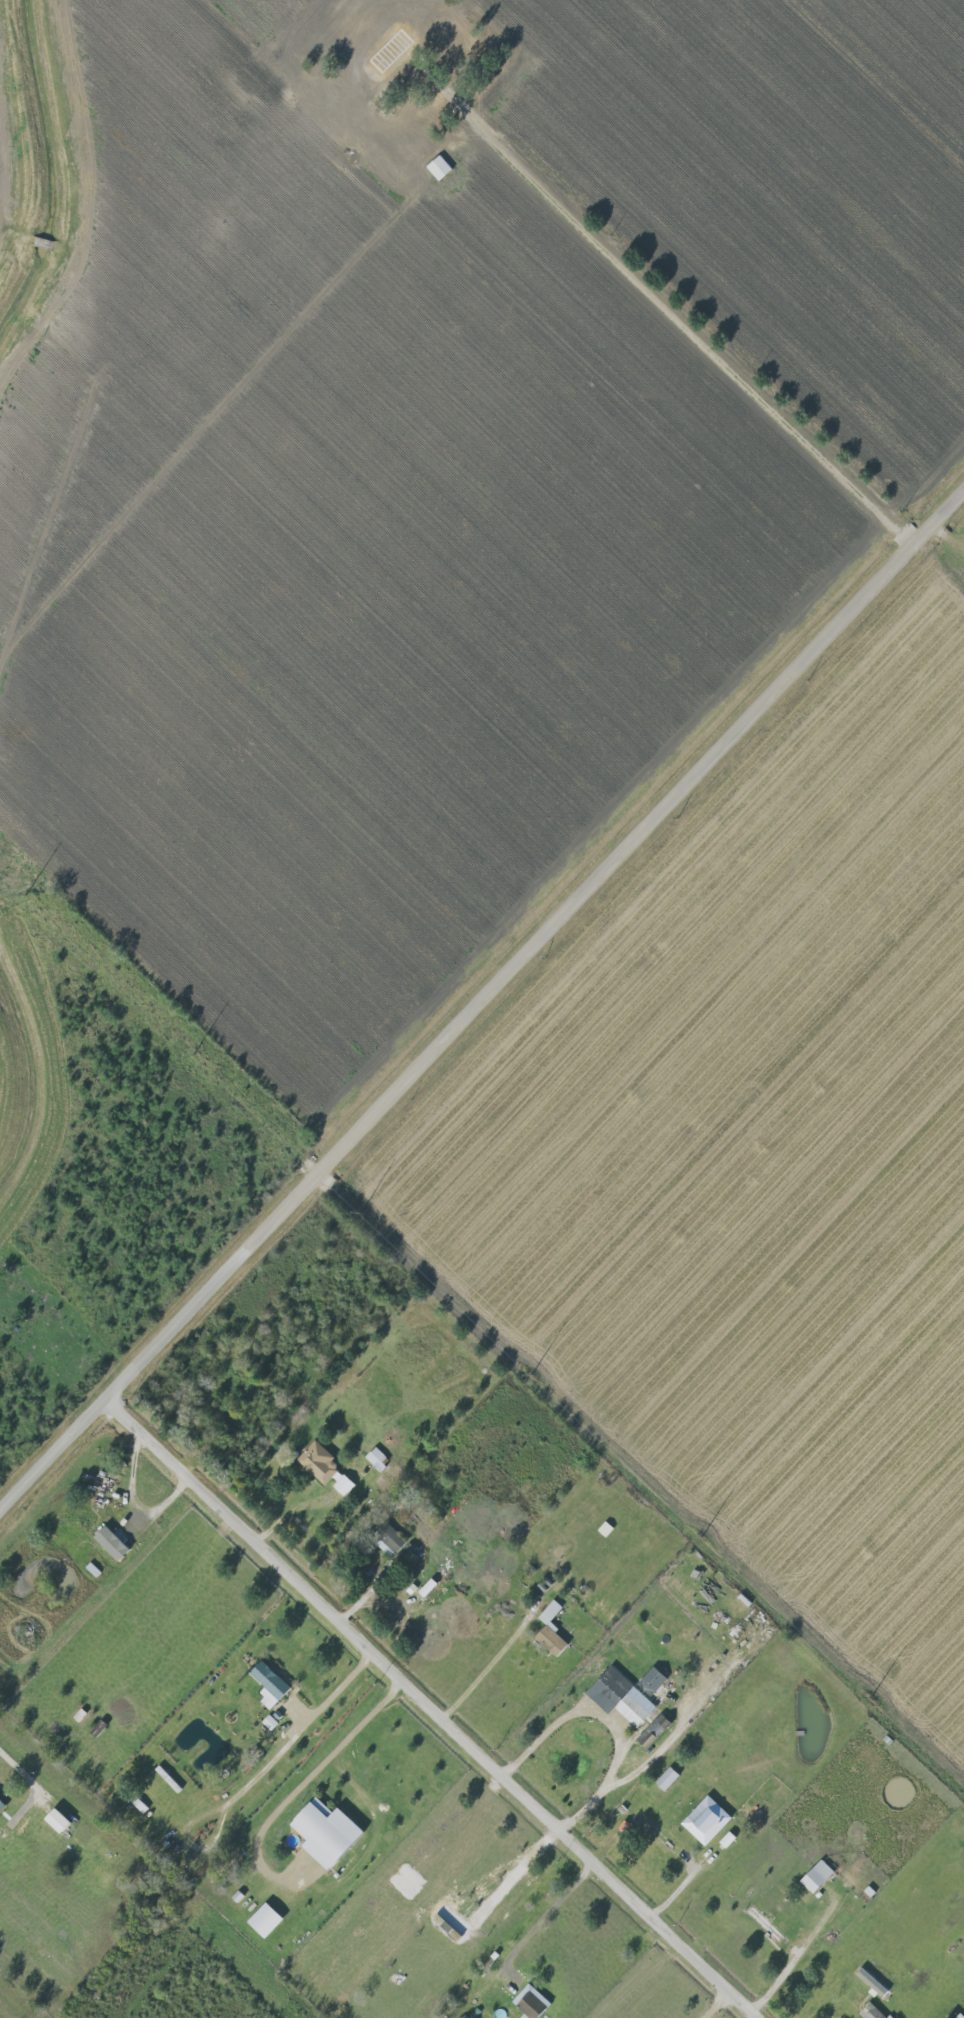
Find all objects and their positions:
building: (463, 51)
road: (486, 127)
building: (440, 168)
road: (482, 1005)
building: (377, 1459)
building: (326, 1468)
road: (645, 1469)
road: (132, 1498)
building: (390, 1538)
building: (114, 1542)
building: (435, 1583)
building: (552, 1630)
road: (490, 1664)
building: (653, 1680)
building: (271, 1684)
road: (335, 1690)
building: (622, 1696)
road: (436, 1708)
road: (609, 1717)
building: (270, 1723)
building: (654, 1730)
road: (317, 1768)
road: (25, 1771)
building: (668, 1778)
building: (708, 1820)
building: (59, 1821)
building: (328, 1832)
building: (818, 1876)
road: (549, 1911)
building: (267, 1920)
building: (767, 1924)
building: (873, 1982)
building: (533, 2002)
road: (718, 2003)
building: (874, 2013)
building: (961, 2016)

